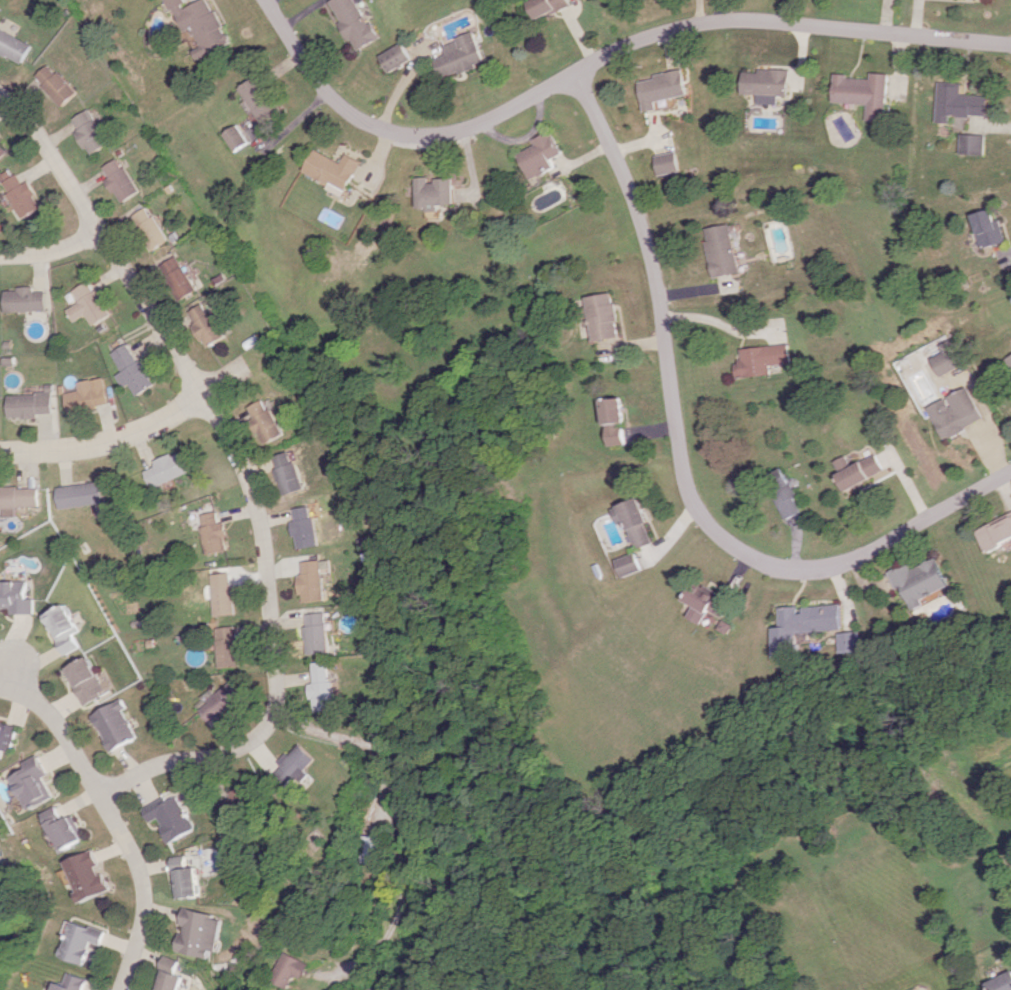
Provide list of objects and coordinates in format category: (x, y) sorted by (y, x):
building: (546, 6)
building: (352, 22)
building: (199, 25)
building: (12, 46)
building: (460, 55)
building: (395, 57)
road: (601, 58)
building: (52, 84)
building: (769, 84)
building: (662, 88)
building: (867, 93)
building: (258, 98)
building: (958, 102)
building: (87, 131)
building: (233, 137)
building: (972, 144)
building: (1, 151)
building: (542, 155)
building: (667, 163)
building: (333, 170)
building: (117, 180)
building: (436, 192)
building: (18, 193)
building: (146, 228)
building: (987, 228)
road: (48, 250)
building: (722, 250)
building: (175, 277)
building: (20, 300)
building: (84, 304)
building: (604, 316)
building: (204, 324)
building: (947, 358)
building: (762, 359)
building: (1009, 359)
building: (127, 370)
building: (82, 395)
building: (26, 404)
building: (614, 410)
building: (955, 412)
building: (263, 422)
road: (125, 433)
building: (616, 434)
road: (680, 463)
building: (162, 469)
road: (241, 469)
building: (858, 471)
building: (286, 473)
building: (783, 492)
building: (78, 494)
building: (17, 498)
building: (633, 521)
building: (302, 527)
building: (996, 532)
building: (210, 533)
building: (628, 564)
building: (922, 580)
building: (310, 581)
building: (221, 594)
building: (14, 597)
building: (706, 602)
building: (805, 625)
building: (61, 628)
building: (317, 633)
building: (852, 641)
building: (226, 646)
road: (28, 659)
building: (85, 680)
building: (322, 687)
building: (220, 703)
building: (115, 725)
building: (8, 736)
building: (298, 768)
building: (35, 783)
building: (239, 799)
building: (173, 816)
road: (117, 818)
road: (394, 824)
building: (65, 828)
building: (372, 848)
building: (86, 875)
building: (189, 881)
building: (202, 933)
building: (77, 941)
building: (293, 969)
building: (169, 975)
building: (1001, 982)
building: (68, 983)

